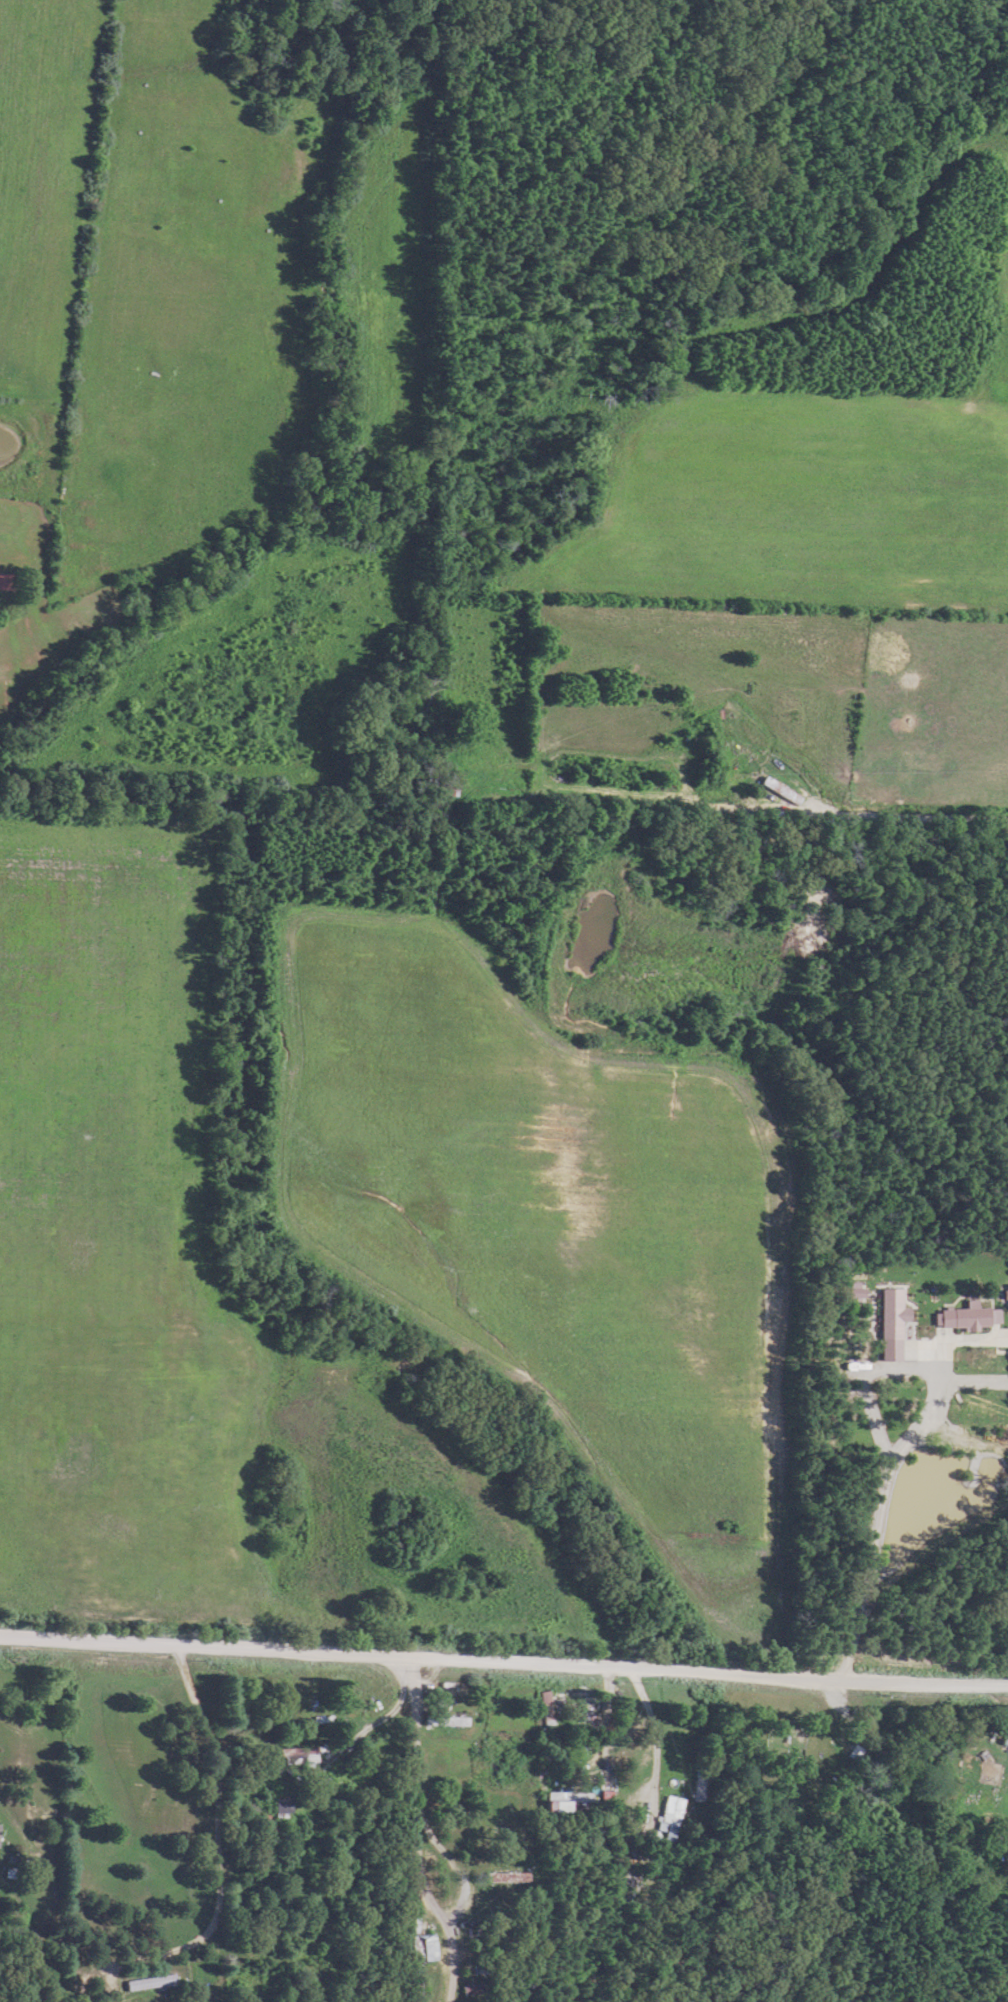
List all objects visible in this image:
building: (5, 580)
building: (781, 791)
road: (962, 1268)
building: (848, 1292)
building: (886, 1313)
building: (960, 1316)
road: (866, 1582)
road: (503, 1665)
building: (442, 1720)
road: (416, 1742)
building: (814, 1743)
building: (300, 1756)
road: (329, 1765)
building: (278, 1806)
road: (635, 1812)
building: (670, 1819)
road: (215, 1833)
road: (418, 1896)
building: (416, 1945)
road: (95, 1967)
building: (147, 1983)

